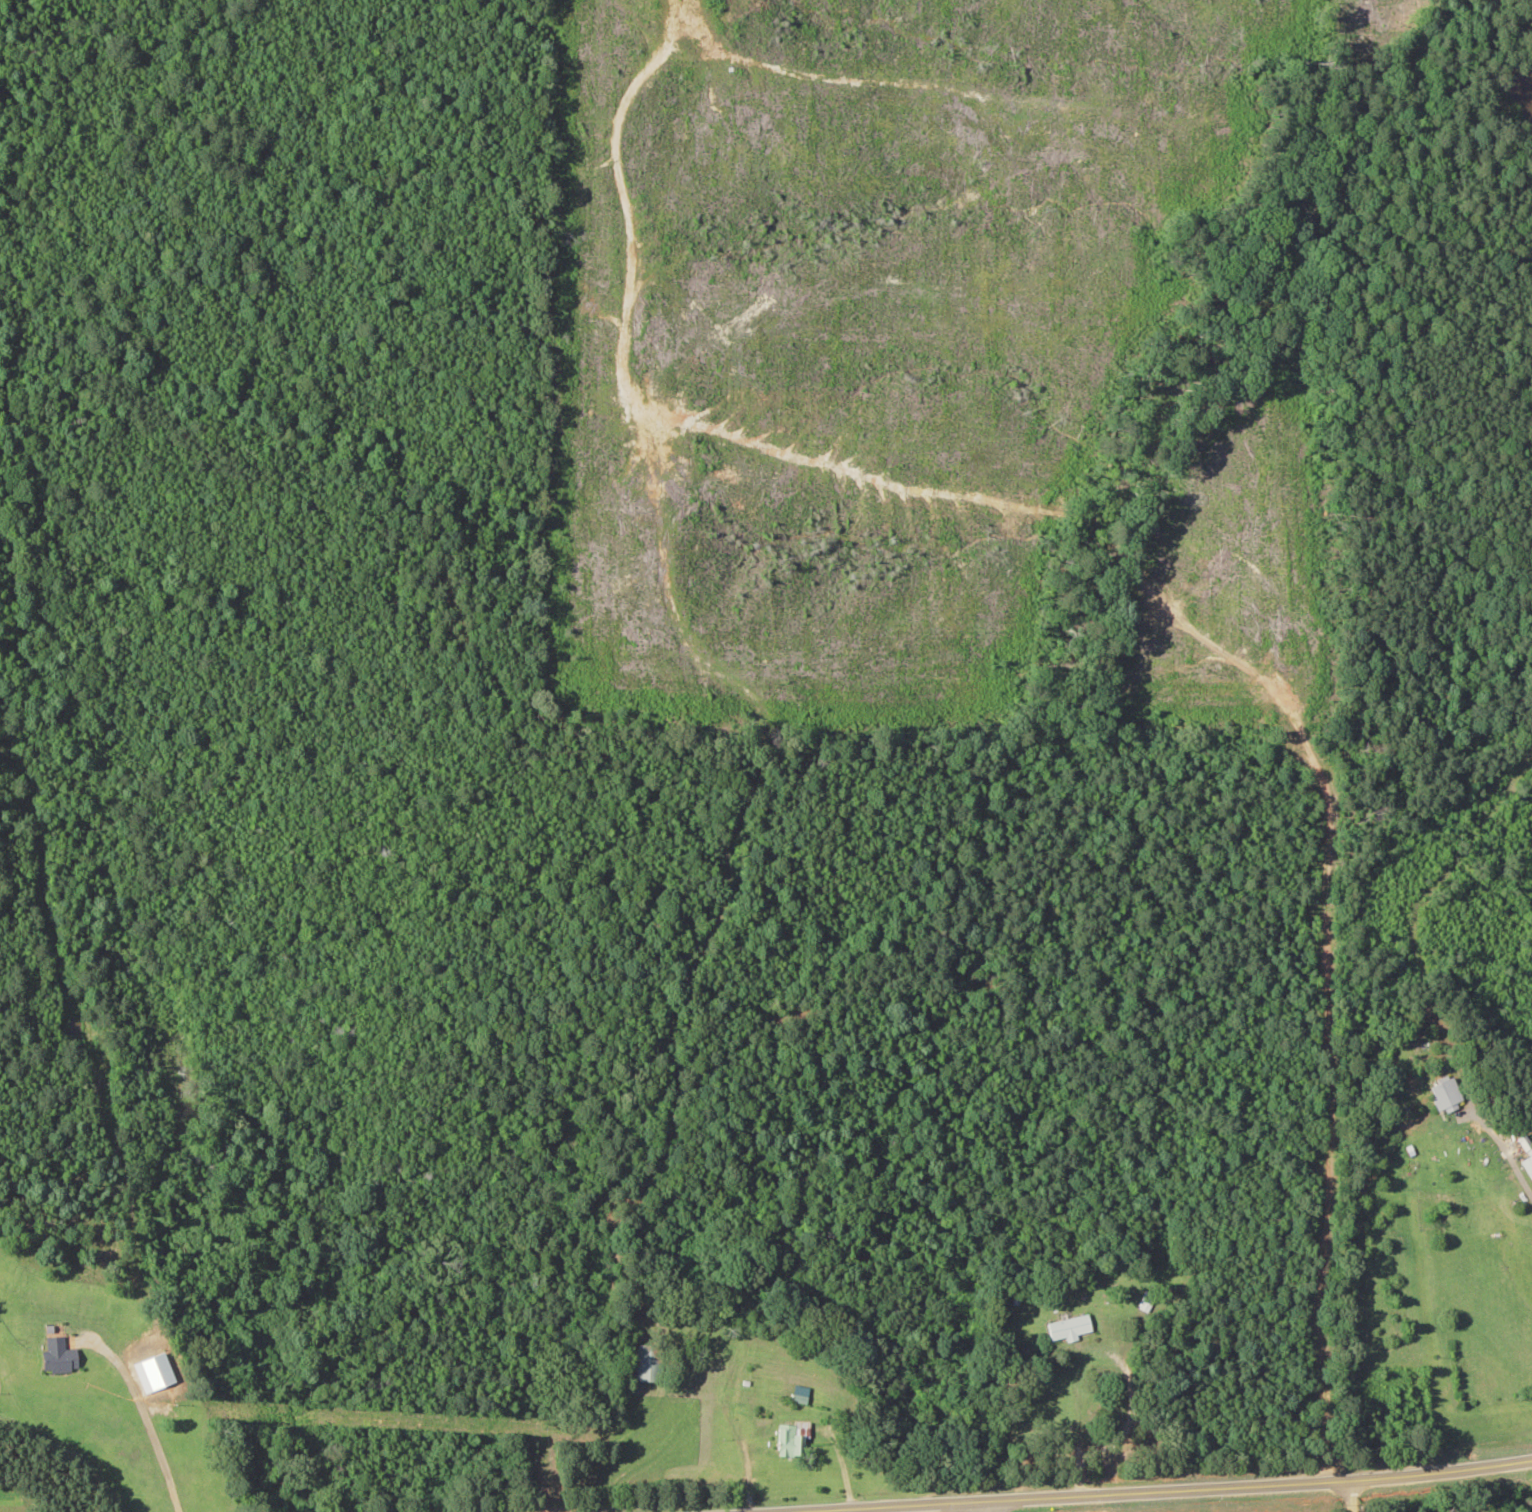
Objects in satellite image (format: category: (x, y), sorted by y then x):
building: (1447, 1095)
building: (1527, 1154)
building: (1146, 1301)
building: (1069, 1328)
building: (59, 1355)
building: (649, 1363)
building: (793, 1439)
road: (1259, 1495)
road: (1310, 1502)

